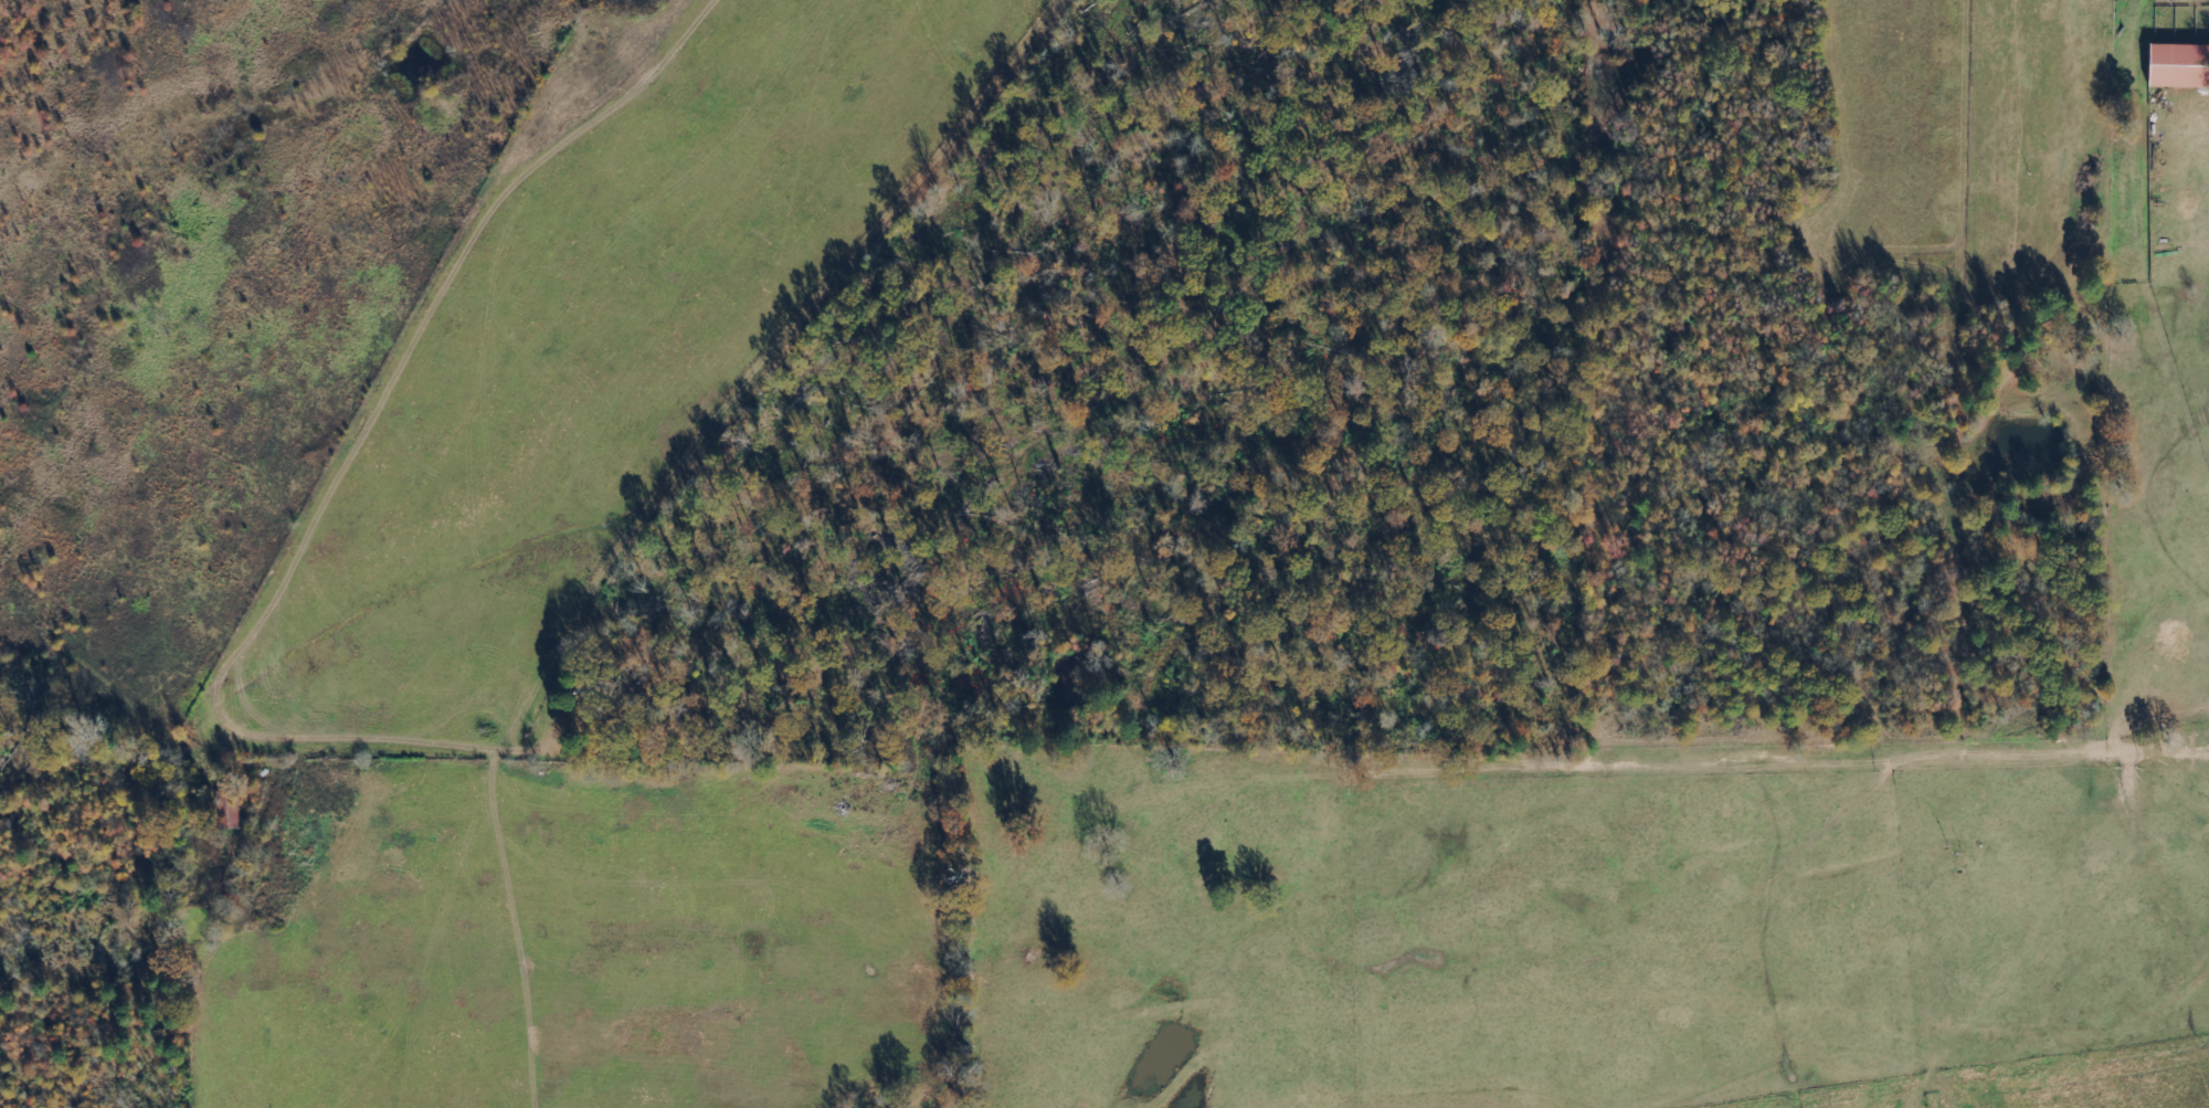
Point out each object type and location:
building: (2178, 65)

